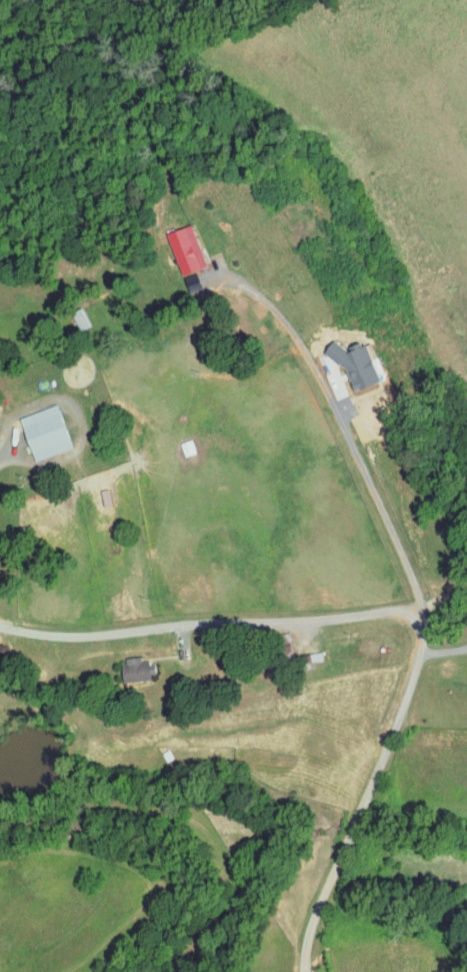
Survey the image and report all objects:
building: (187, 248)
road: (345, 429)
building: (47, 431)
road: (7, 453)
road: (393, 612)
road: (183, 645)
road: (443, 651)
building: (139, 669)

